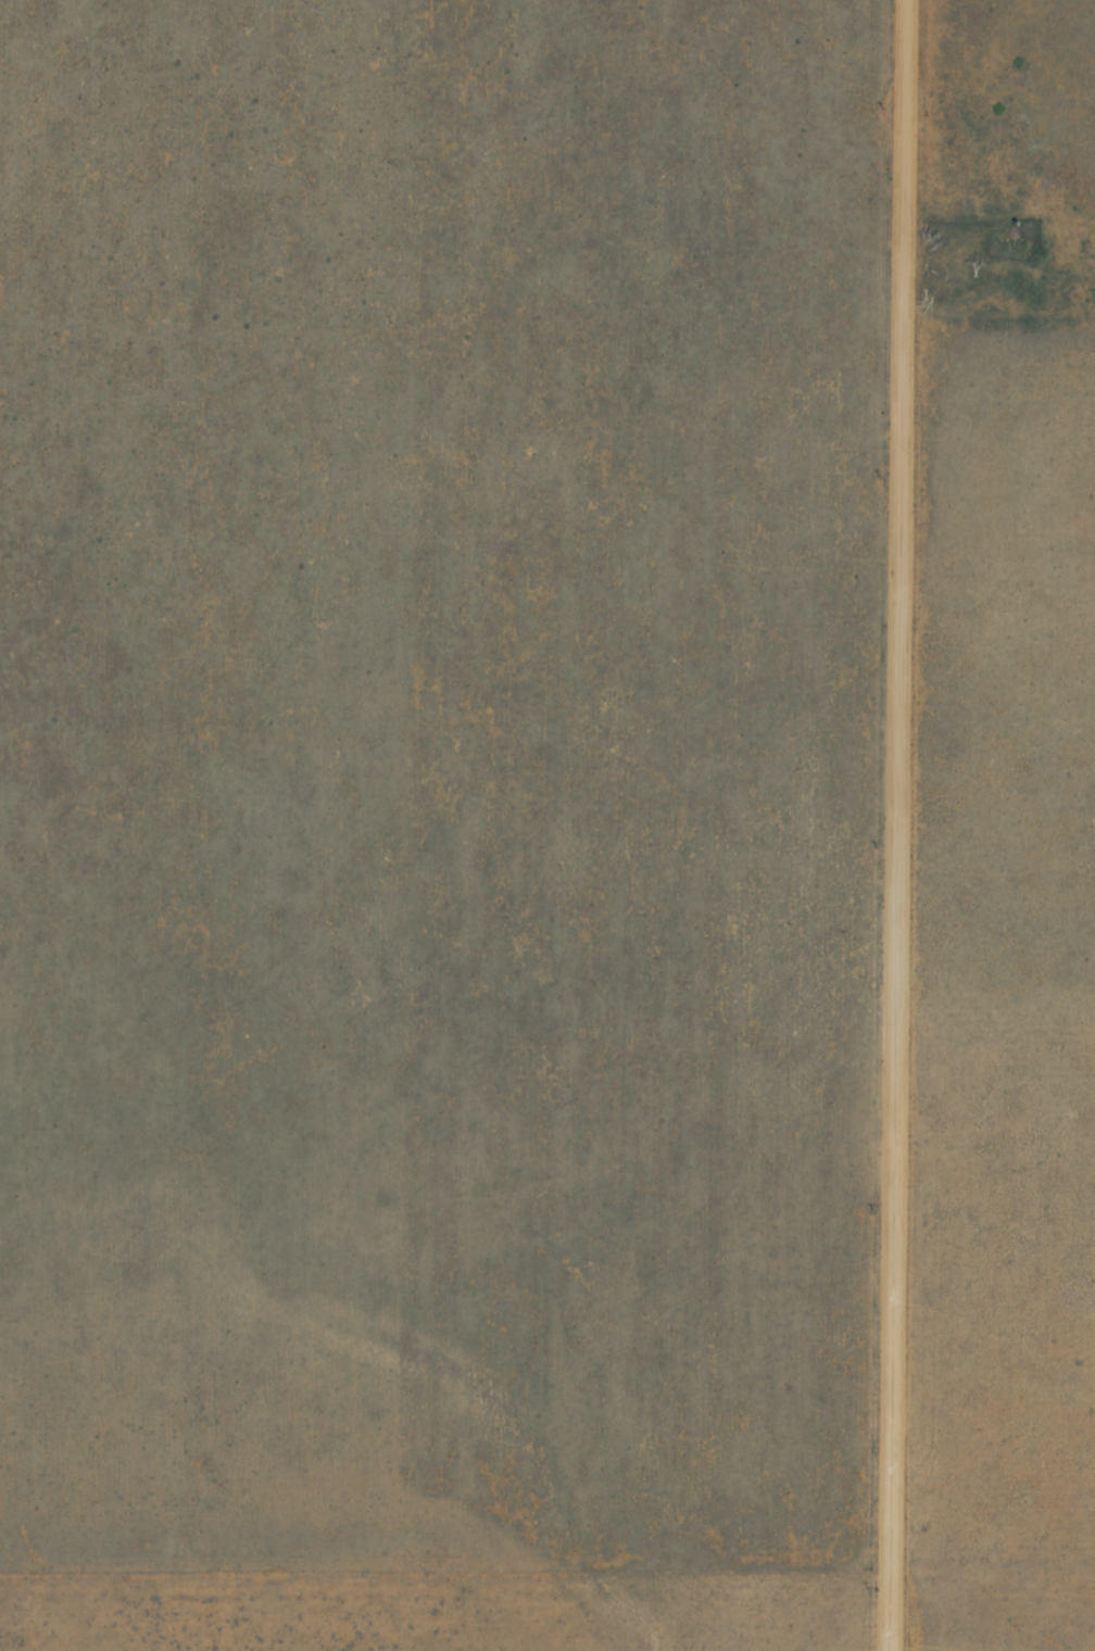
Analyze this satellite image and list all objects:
road: (893, 824)

